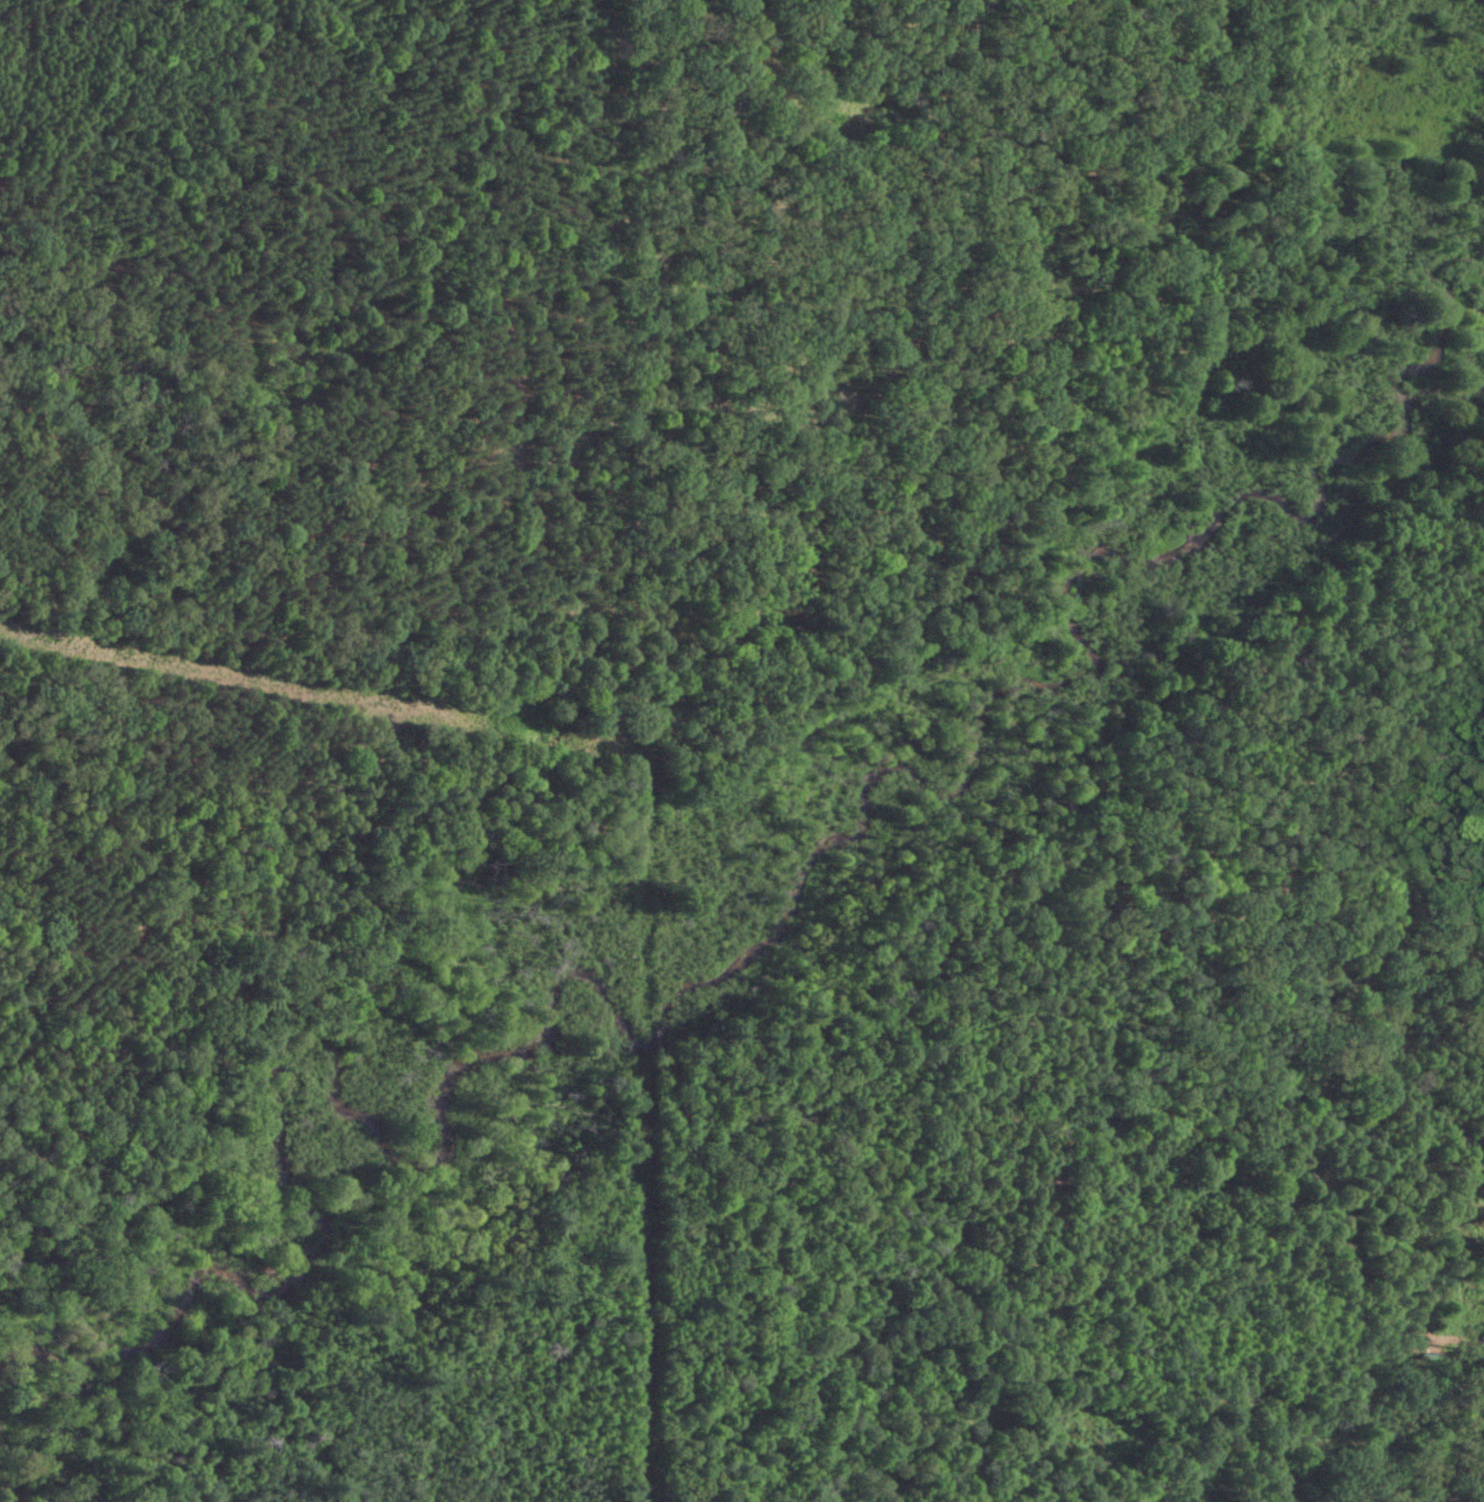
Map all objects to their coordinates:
road: (1217, 1480)

